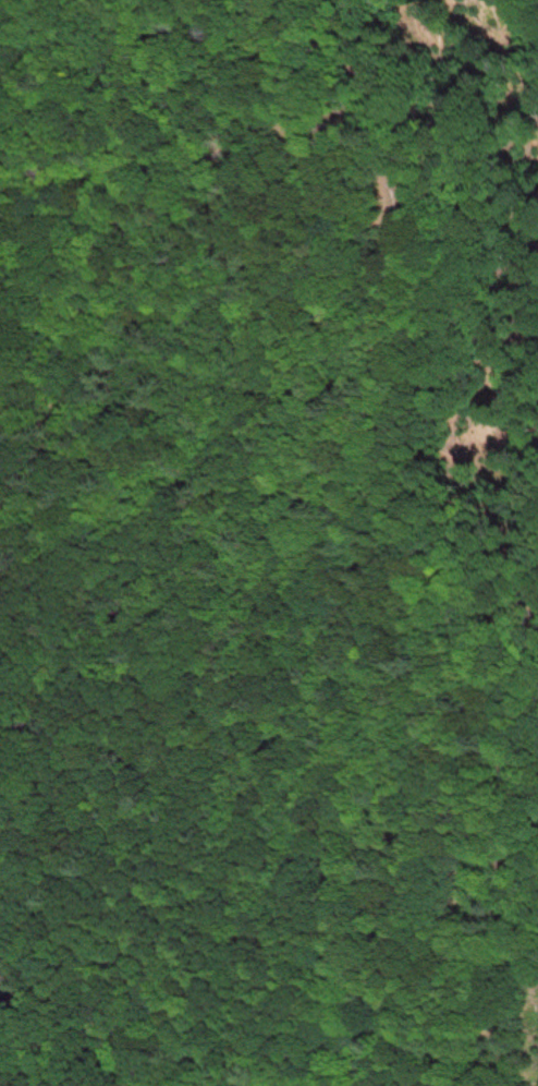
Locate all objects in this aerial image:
park: (269, 543)

